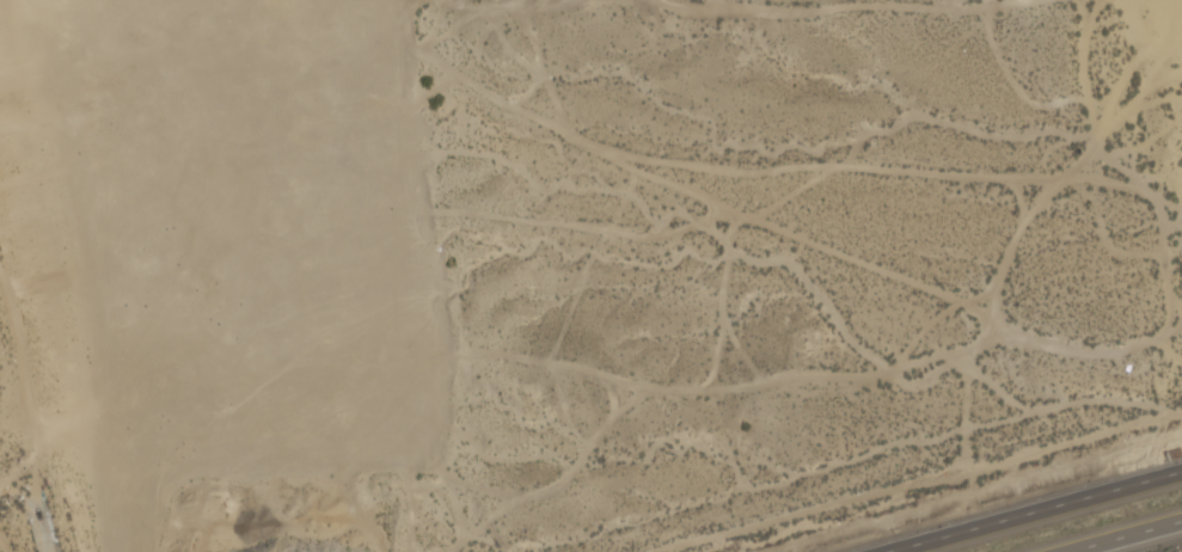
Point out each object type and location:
road: (1037, 513)
road: (1128, 536)

